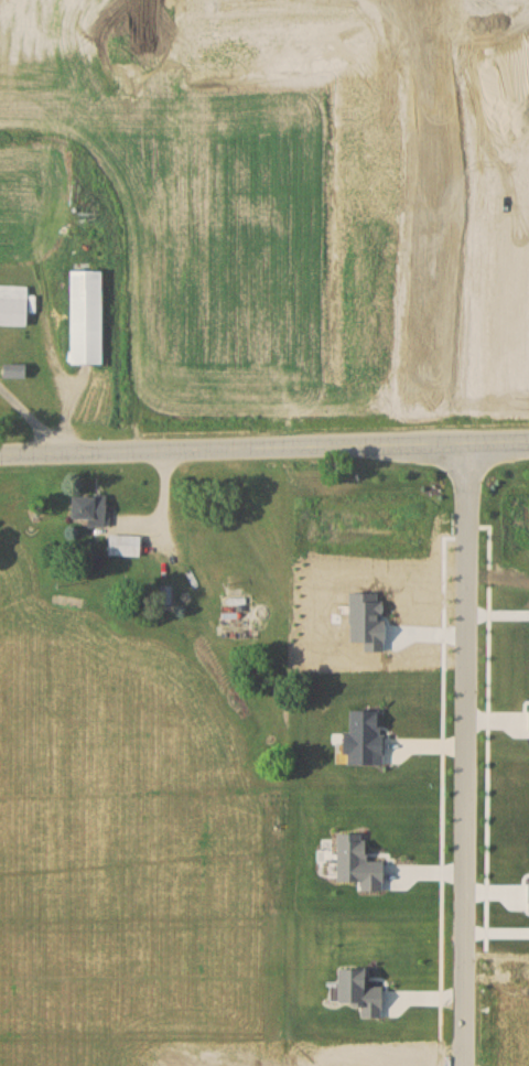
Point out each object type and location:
road: (475, 218)
building: (14, 304)
building: (89, 315)
building: (15, 369)
road: (63, 409)
road: (31, 422)
road: (263, 445)
building: (91, 508)
building: (126, 545)
building: (165, 593)
building: (366, 620)
building: (528, 719)
building: (361, 736)
road: (467, 752)
road: (489, 787)
road: (444, 792)
building: (355, 864)
building: (527, 893)
building: (355, 993)
building: (528, 1044)

